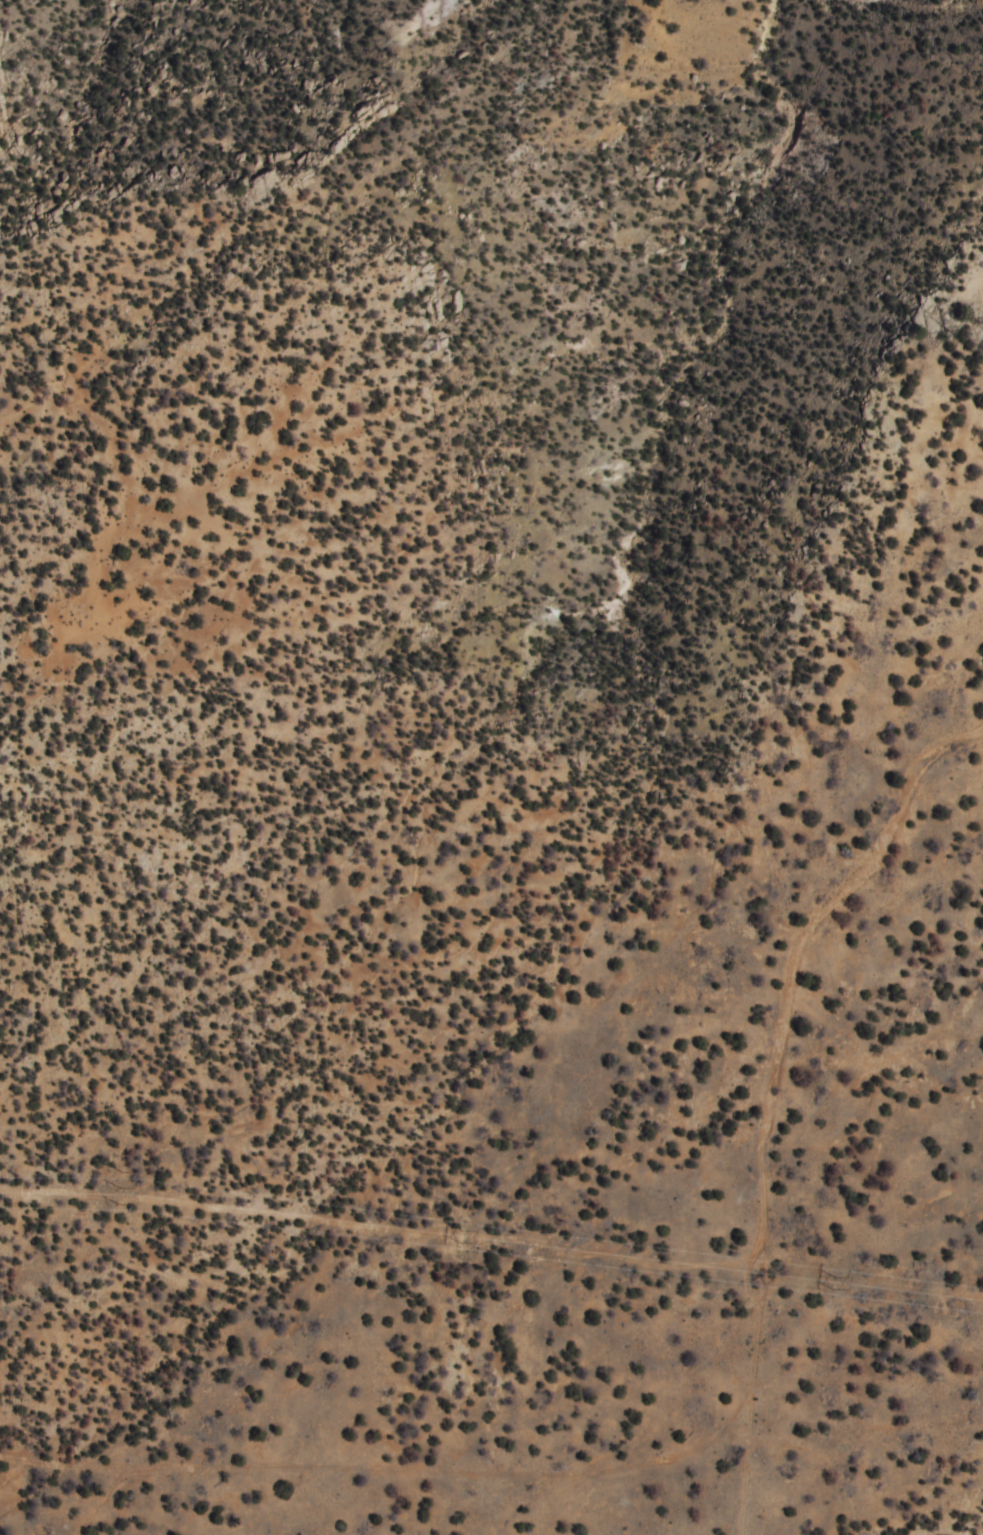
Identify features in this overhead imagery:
road: (836, 1131)
power tower: (120, 1188)
power tower: (458, 1237)
power tower: (833, 1280)
road: (760, 1517)
road: (769, 1517)
road: (379, 1522)

